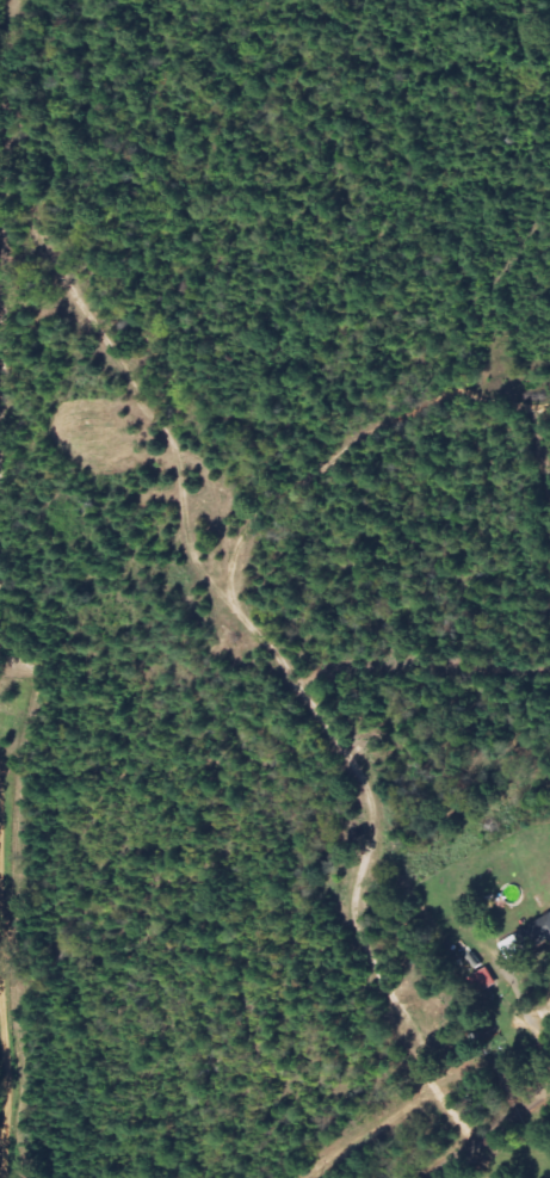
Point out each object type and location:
building: (527, 939)
building: (483, 981)
road: (496, 1123)

